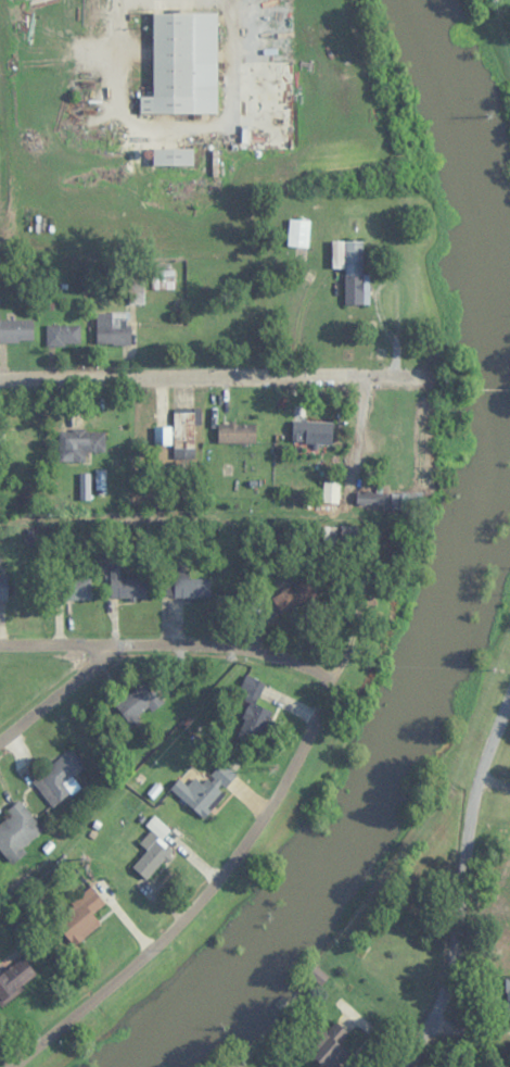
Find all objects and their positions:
building: (183, 64)
building: (174, 156)
building: (298, 238)
building: (352, 268)
building: (113, 328)
building: (16, 330)
building: (63, 335)
road: (208, 376)
building: (313, 431)
building: (162, 435)
building: (184, 435)
building: (18, 442)
building: (80, 442)
building: (331, 491)
building: (372, 498)
building: (407, 500)
river: (447, 576)
building: (127, 585)
building: (187, 586)
building: (3, 587)
building: (73, 587)
building: (297, 594)
road: (353, 624)
road: (125, 644)
road: (59, 695)
building: (138, 704)
building: (251, 704)
building: (60, 777)
building: (205, 788)
building: (17, 830)
building: (153, 855)
road: (228, 866)
road: (468, 892)
building: (79, 916)
building: (7, 987)
building: (508, 997)
building: (330, 1046)

